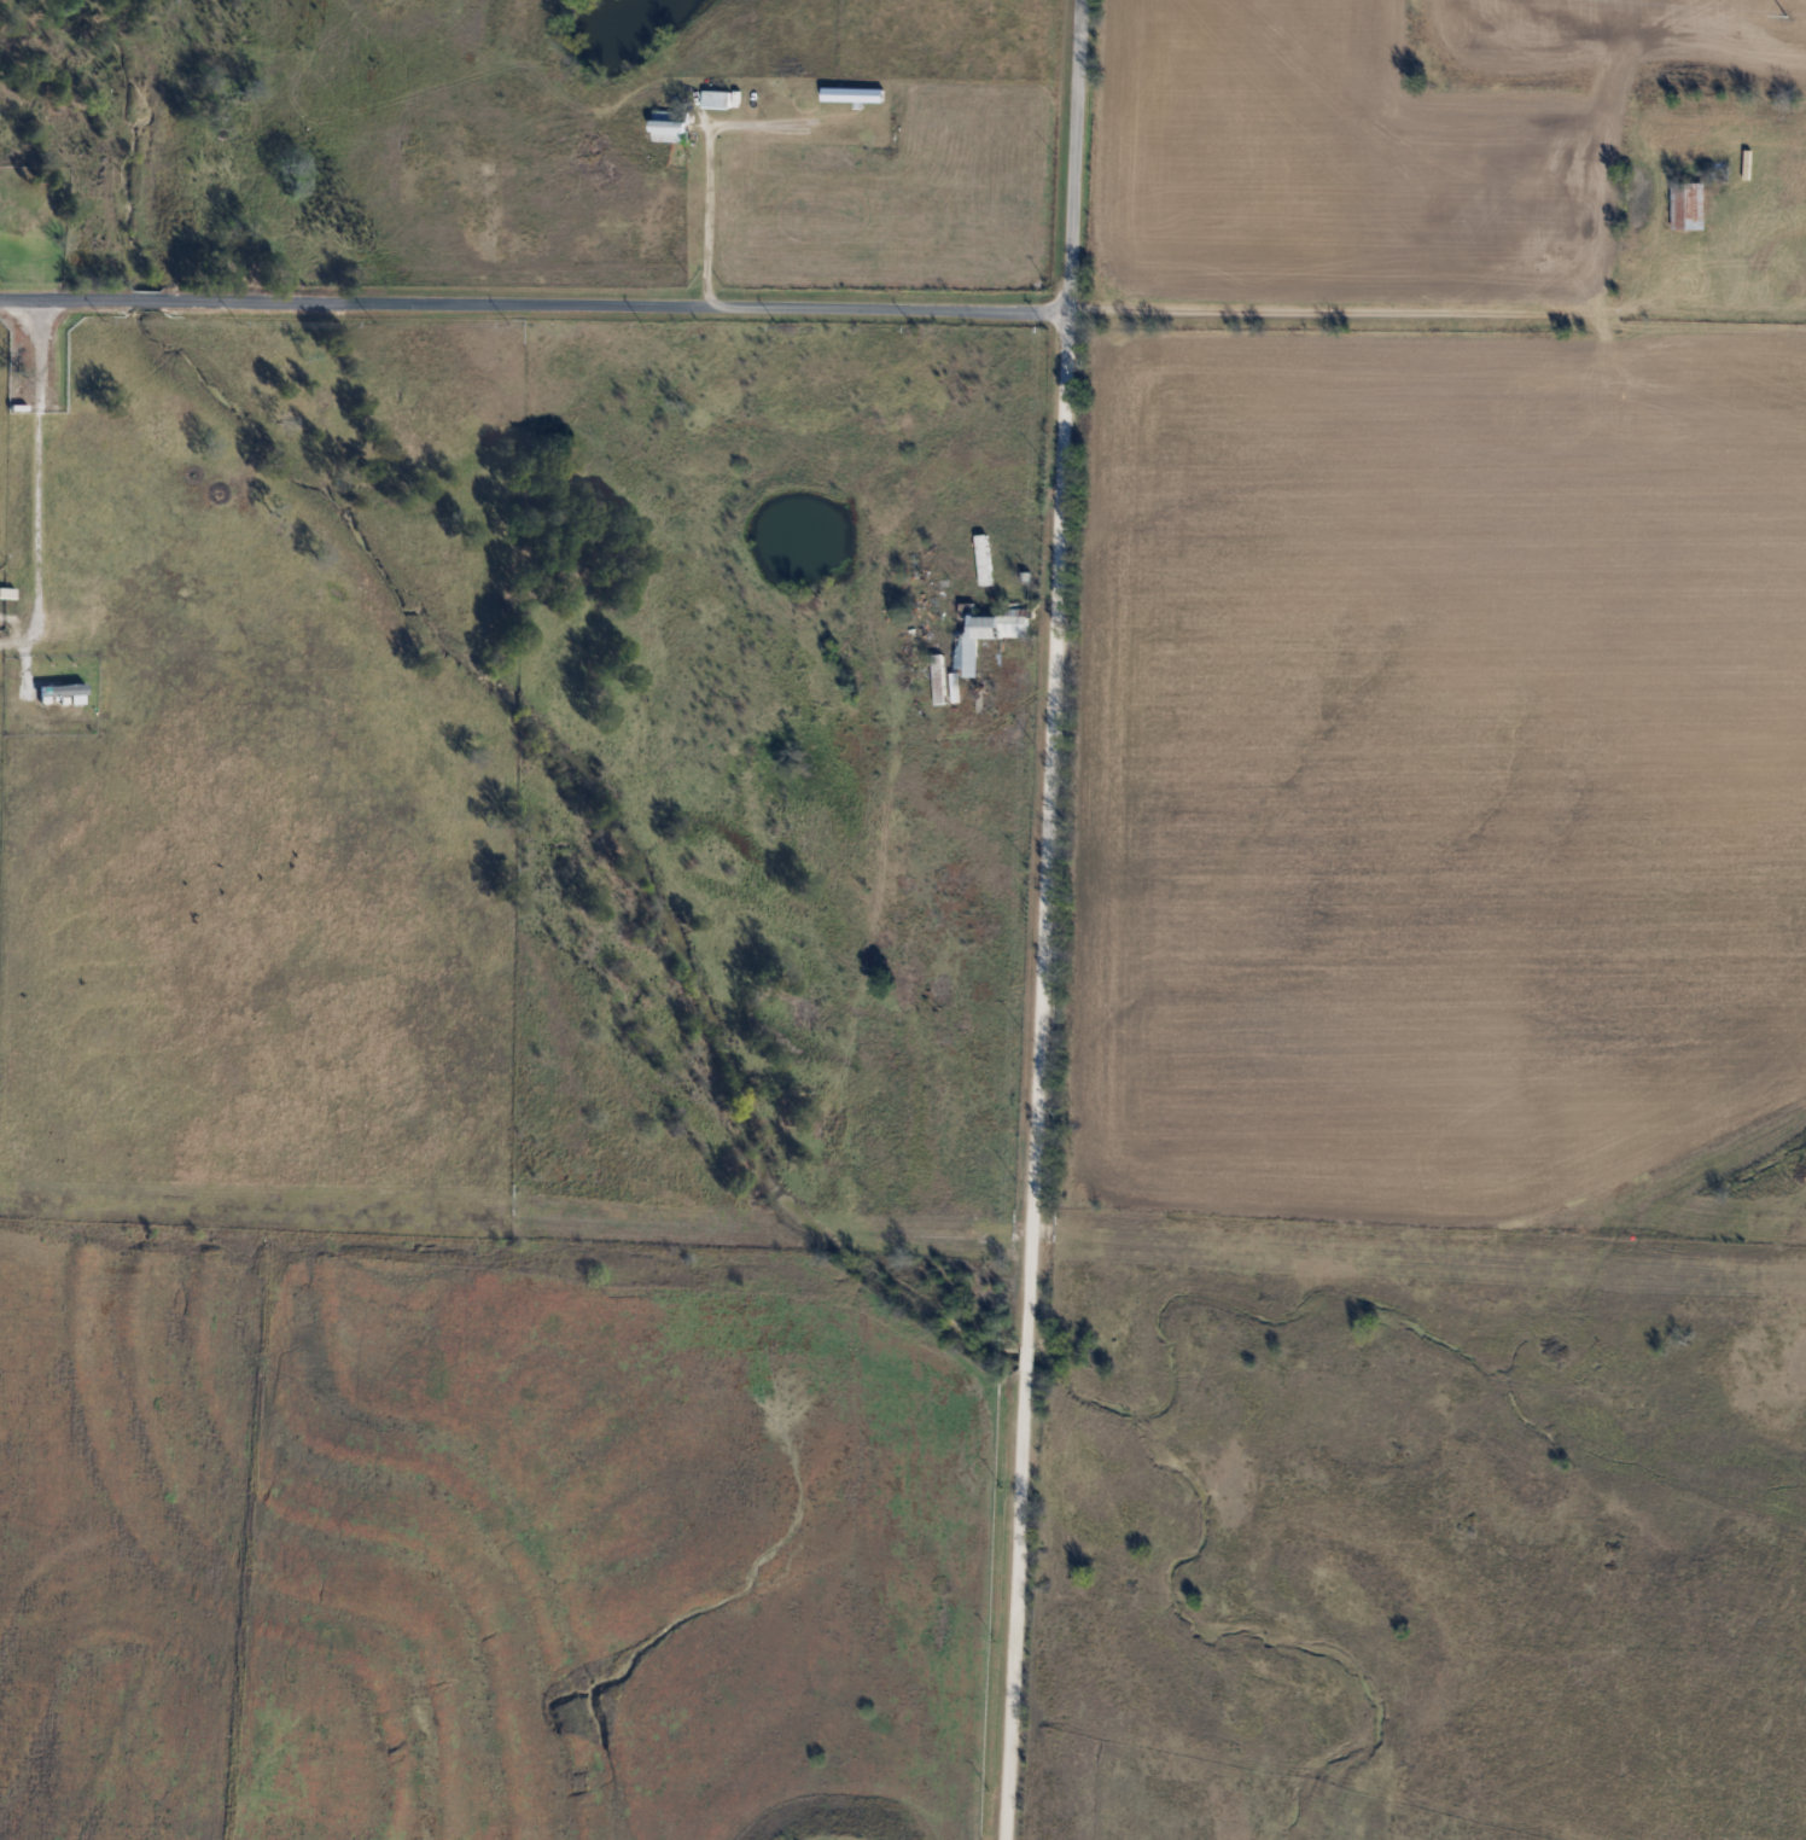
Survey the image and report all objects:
power tower: (1785, 16)
building: (849, 94)
building: (713, 100)
building: (664, 128)
road: (710, 138)
road: (1071, 155)
building: (1684, 205)
road: (531, 304)
road: (29, 482)
building: (980, 560)
building: (980, 636)
building: (936, 680)
road: (1033, 1075)

